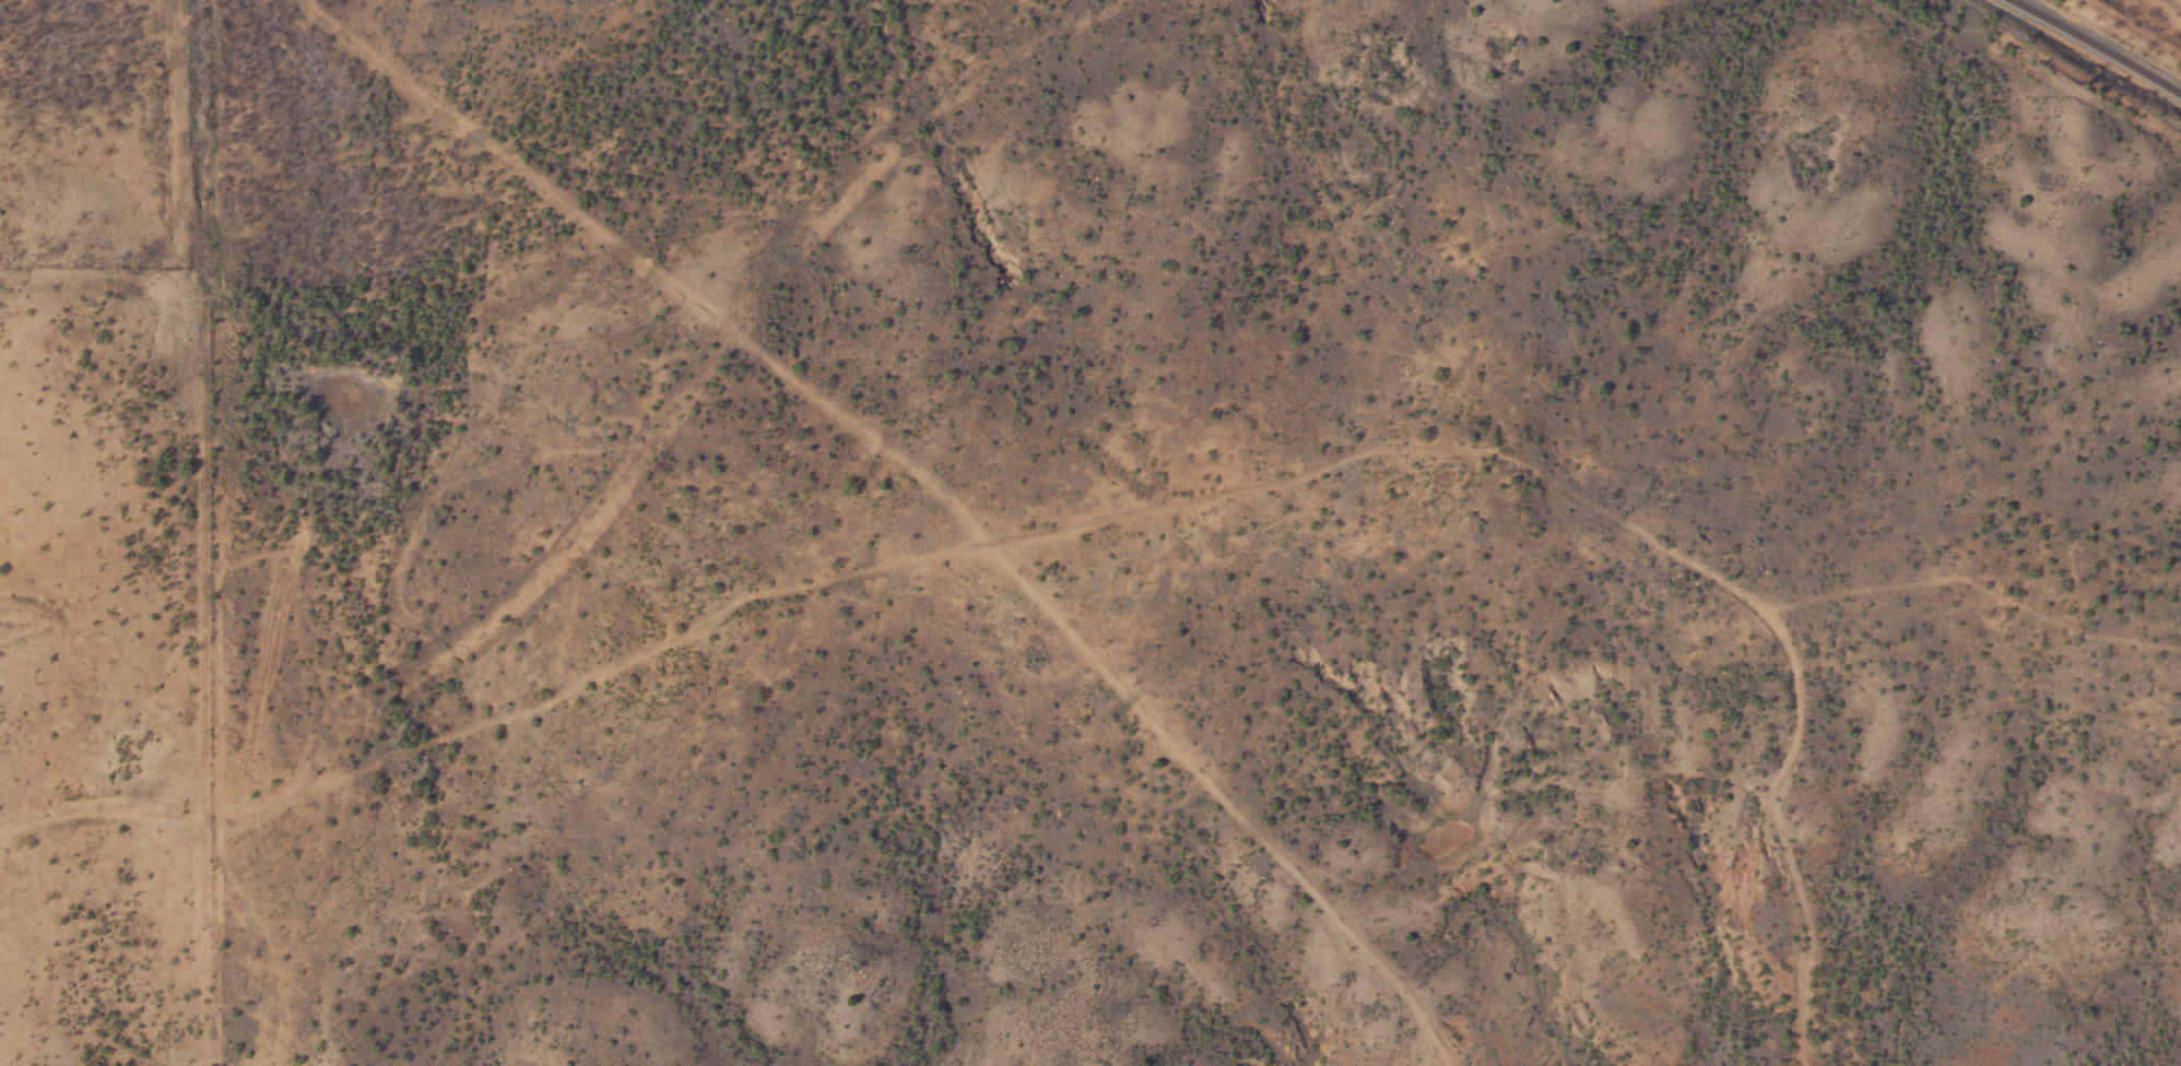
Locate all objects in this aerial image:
railway: (2097, 45)

